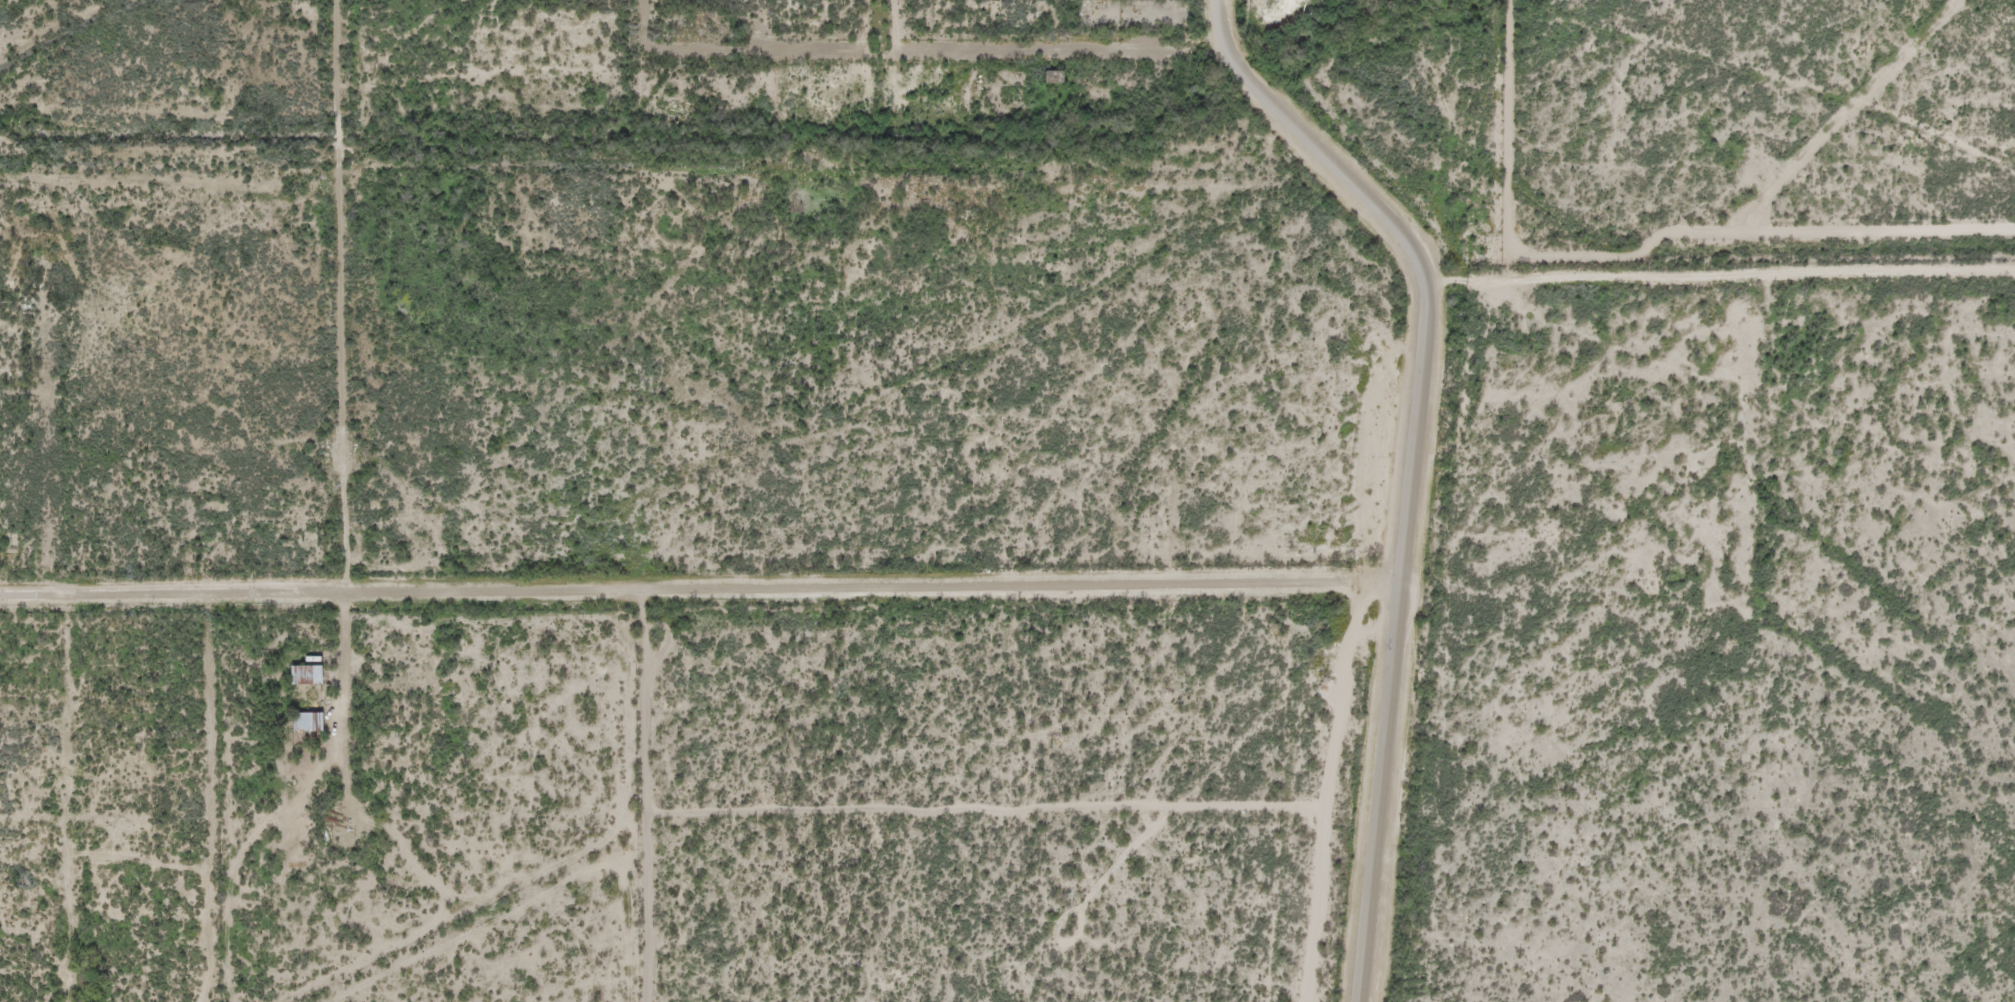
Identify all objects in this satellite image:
airport: (1758, 126)
road: (342, 294)
road: (1413, 462)
road: (701, 582)
building: (299, 677)
building: (300, 724)
road: (58, 797)
road: (220, 797)
road: (30, 850)

